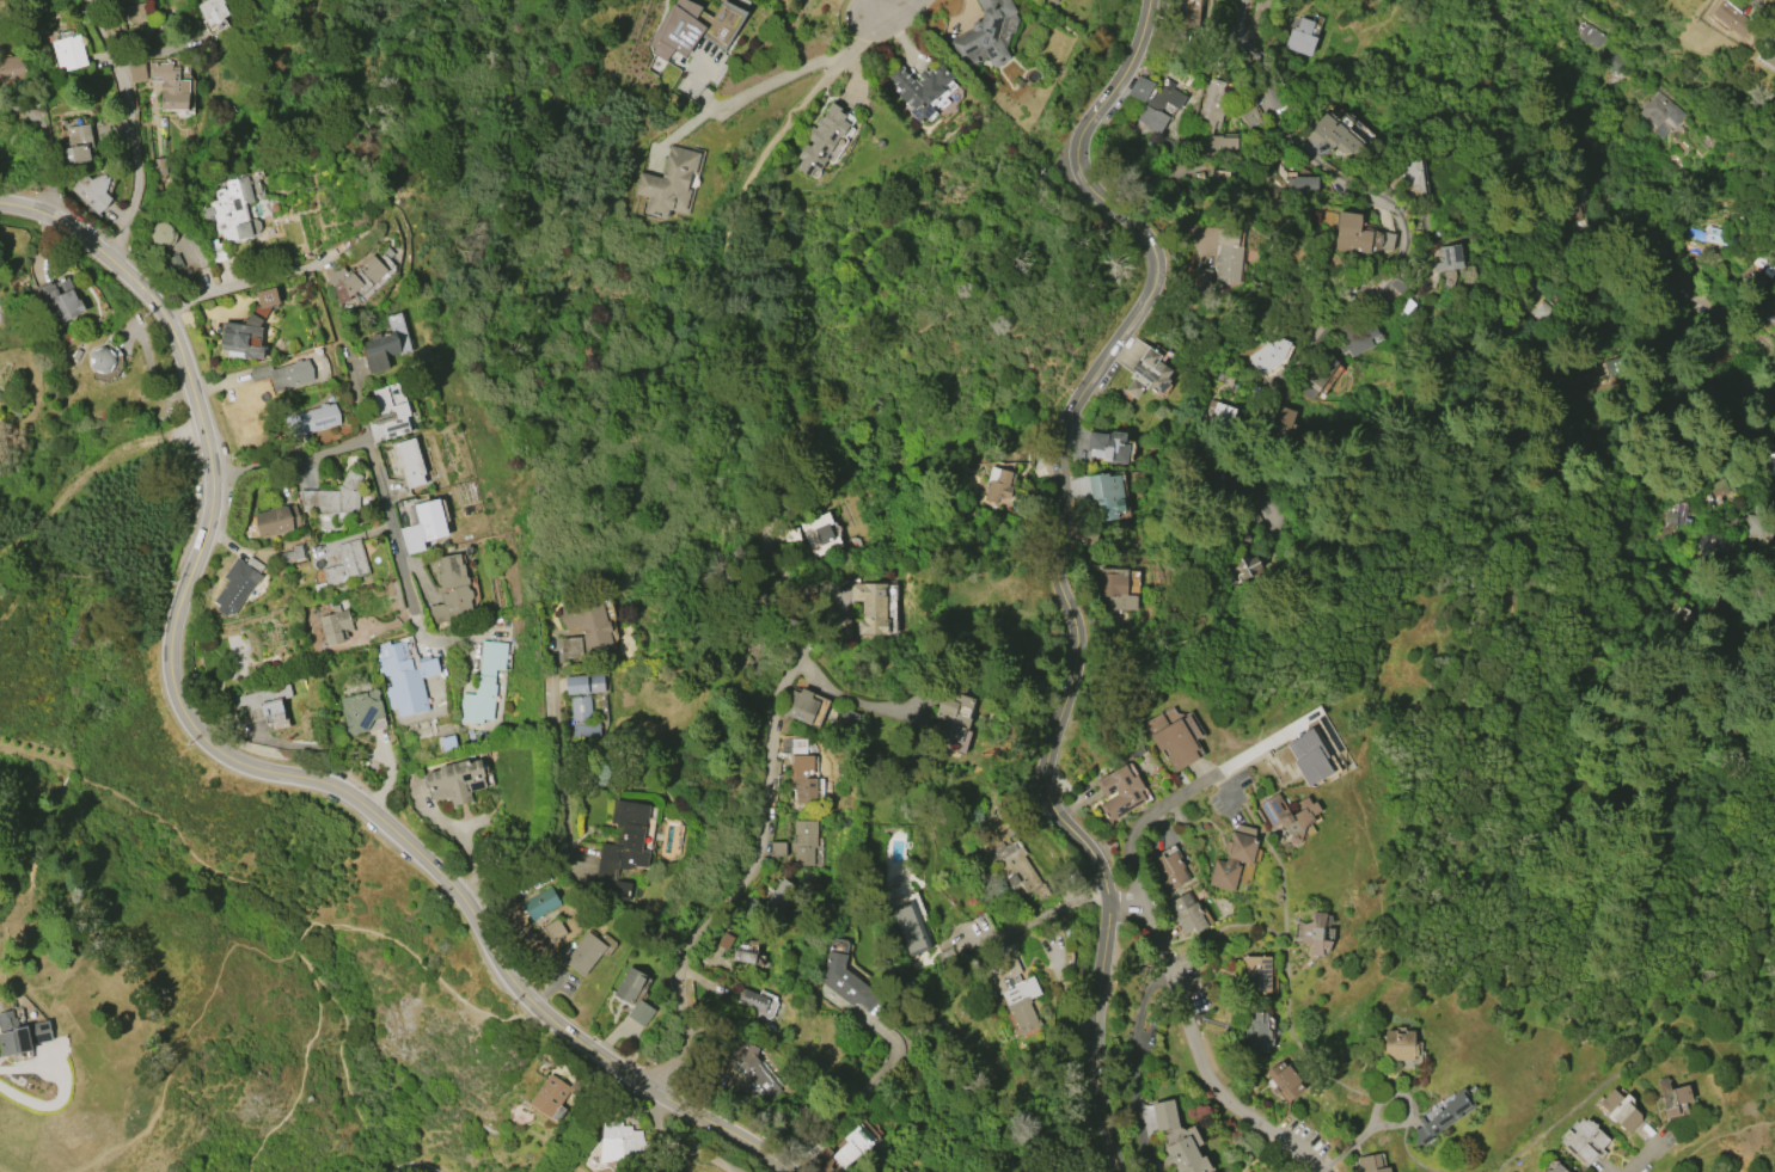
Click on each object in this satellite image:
building: (1262, 5)
road: (1480, 6)
road: (1765, 7)
road: (893, 10)
building: (213, 11)
road: (1492, 12)
building: (135, 13)
building: (1188, 13)
building: (1732, 17)
road: (1479, 23)
building: (691, 27)
building: (985, 35)
building: (1590, 36)
building: (1300, 37)
building: (68, 53)
building: (1768, 54)
building: (1609, 60)
building: (11, 68)
building: (136, 73)
building: (170, 86)
road: (758, 87)
building: (920, 90)
building: (1153, 102)
building: (1655, 109)
building: (1212, 125)
road: (129, 127)
building: (1332, 133)
building: (822, 139)
building: (78, 145)
road: (43, 147)
road: (1639, 170)
building: (1403, 176)
building: (671, 182)
building: (1305, 184)
building: (92, 190)
road: (1647, 195)
building: (1573, 202)
building: (231, 210)
road: (733, 222)
building: (1351, 233)
building: (1385, 241)
road: (1664, 244)
building: (216, 250)
building: (1226, 257)
building: (1447, 257)
road: (1398, 260)
building: (175, 262)
building: (354, 278)
building: (1200, 278)
road: (235, 286)
road: (1713, 294)
road: (1697, 296)
road: (1703, 296)
building: (267, 297)
building: (59, 299)
building: (1767, 306)
road: (1748, 325)
building: (1357, 336)
building: (241, 338)
building: (378, 352)
building: (1267, 355)
building: (102, 360)
building: (292, 374)
building: (1147, 374)
building: (1316, 375)
road: (1592, 386)
building: (388, 412)
building: (1216, 415)
building: (316, 418)
building: (1279, 427)
building: (1107, 446)
road: (287, 458)
building: (410, 462)
building: (1769, 472)
road: (1737, 474)
road: (375, 478)
building: (997, 486)
building: (1716, 491)
building: (1106, 495)
building: (338, 499)
building: (1243, 504)
road: (1569, 516)
building: (277, 521)
building: (1665, 521)
building: (424, 526)
building: (819, 534)
building: (790, 539)
building: (1241, 539)
road: (1418, 548)
building: (290, 553)
road: (1054, 560)
building: (347, 564)
building: (1238, 570)
building: (238, 584)
building: (1114, 589)
building: (452, 591)
building: (870, 608)
building: (335, 625)
building: (586, 630)
road: (170, 656)
building: (403, 676)
building: (583, 683)
building: (483, 685)
road: (856, 699)
building: (267, 705)
building: (800, 705)
building: (362, 712)
building: (581, 718)
building: (847, 719)
building: (951, 722)
building: (1171, 741)
building: (448, 743)
building: (1309, 757)
road: (773, 772)
building: (801, 779)
building: (457, 780)
building: (1119, 792)
road: (561, 803)
building: (1289, 816)
road: (1145, 827)
building: (802, 842)
building: (620, 849)
building: (1232, 860)
building: (1014, 867)
building: (1168, 871)
building: (779, 896)
building: (540, 903)
building: (1186, 913)
road: (1035, 915)
building: (908, 928)
building: (553, 929)
building: (1312, 933)
road: (412, 951)
building: (746, 952)
building: (584, 953)
building: (1255, 974)
building: (845, 977)
road: (1410, 978)
building: (629, 984)
building: (1016, 994)
building: (752, 1000)
building: (639, 1013)
building: (1257, 1032)
building: (20, 1035)
building: (1398, 1045)
road: (1195, 1047)
road: (602, 1060)
road: (1130, 1067)
road: (341, 1069)
building: (752, 1070)
road: (301, 1076)
building: (1284, 1079)
road: (861, 1088)
building: (561, 1093)
building: (1671, 1097)
road: (56, 1102)
building: (1620, 1110)
building: (1164, 1115)
building: (1443, 1117)
road: (723, 1129)
road: (1718, 1133)
building: (1585, 1140)
building: (619, 1141)
road: (1359, 1142)
road: (675, 1146)
building: (850, 1147)
building: (1186, 1156)
road: (1648, 1156)
building: (822, 1159)
building: (1370, 1164)
building: (1555, 1168)
road: (418, 1170)

